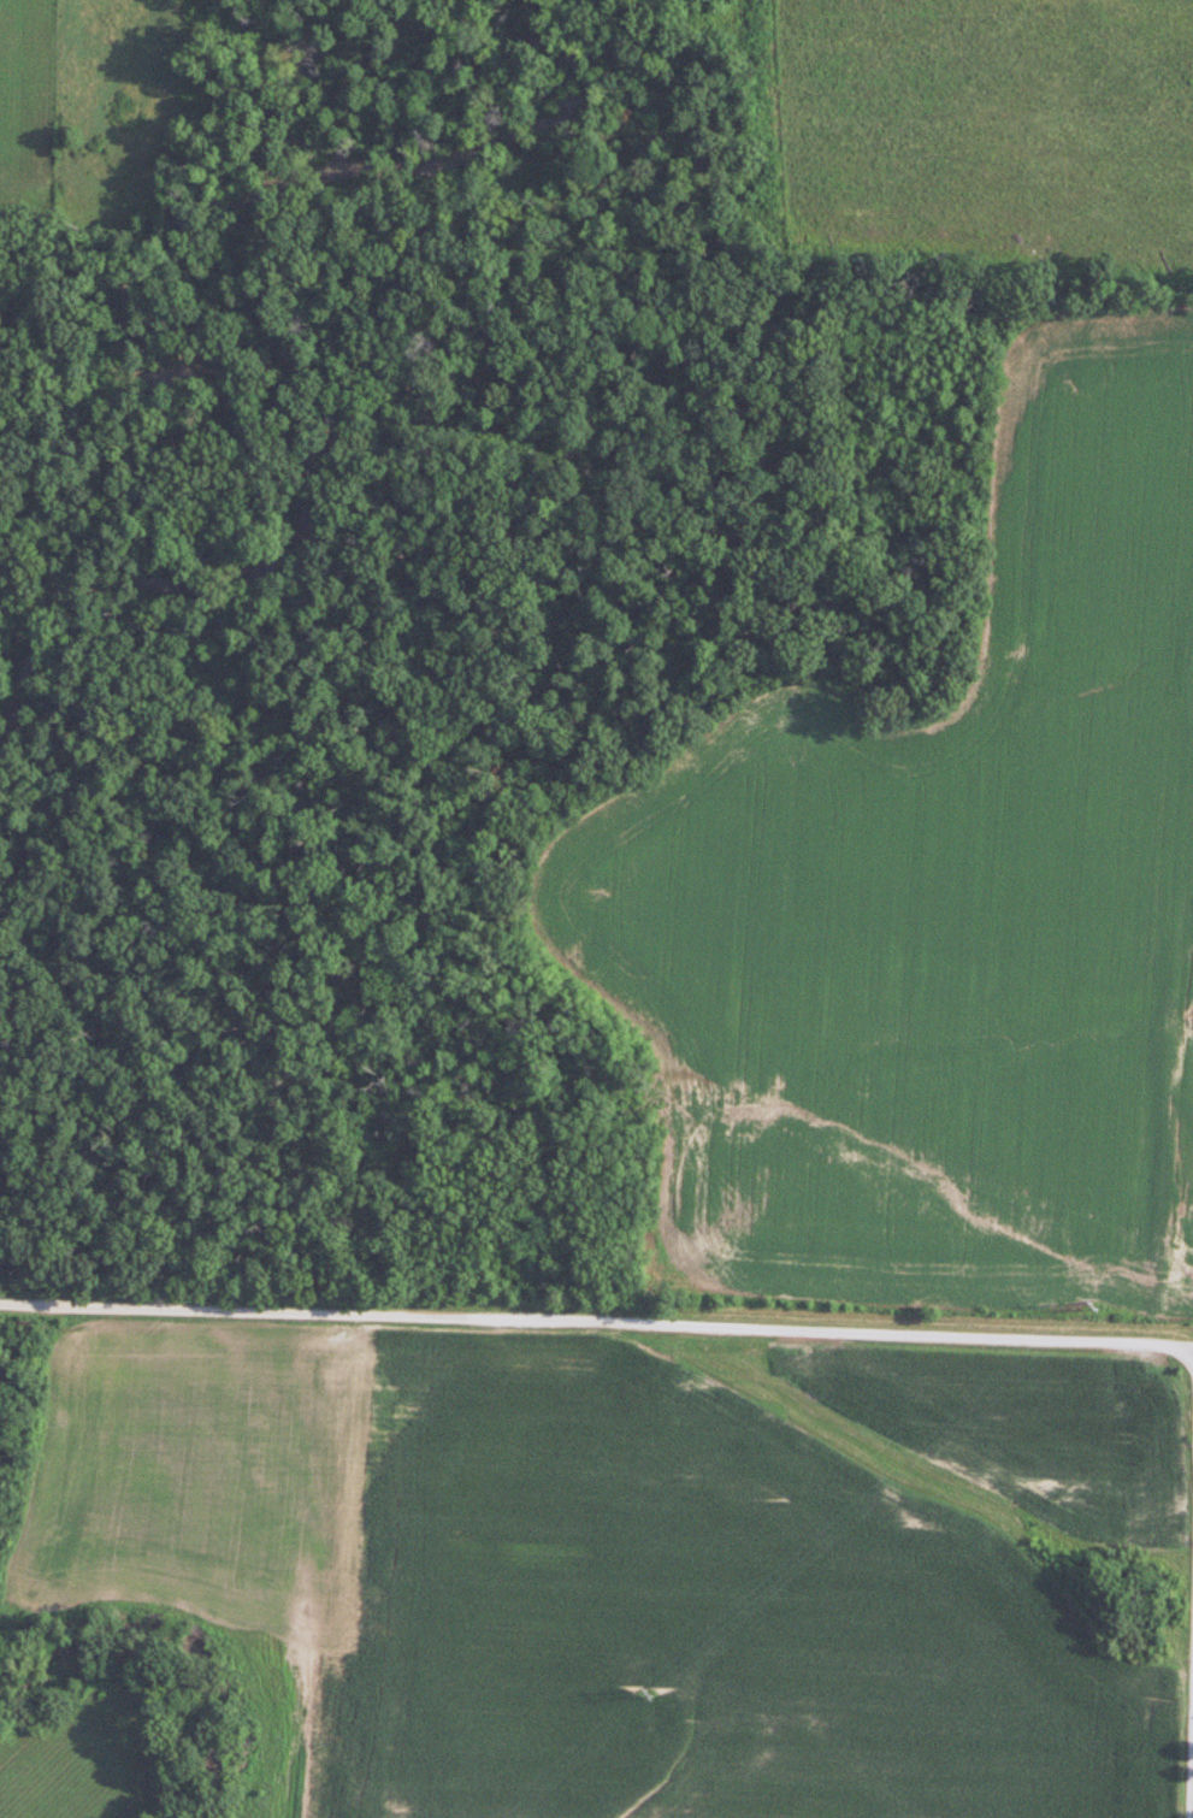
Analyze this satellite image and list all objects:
road: (596, 1324)
road: (1192, 1796)

